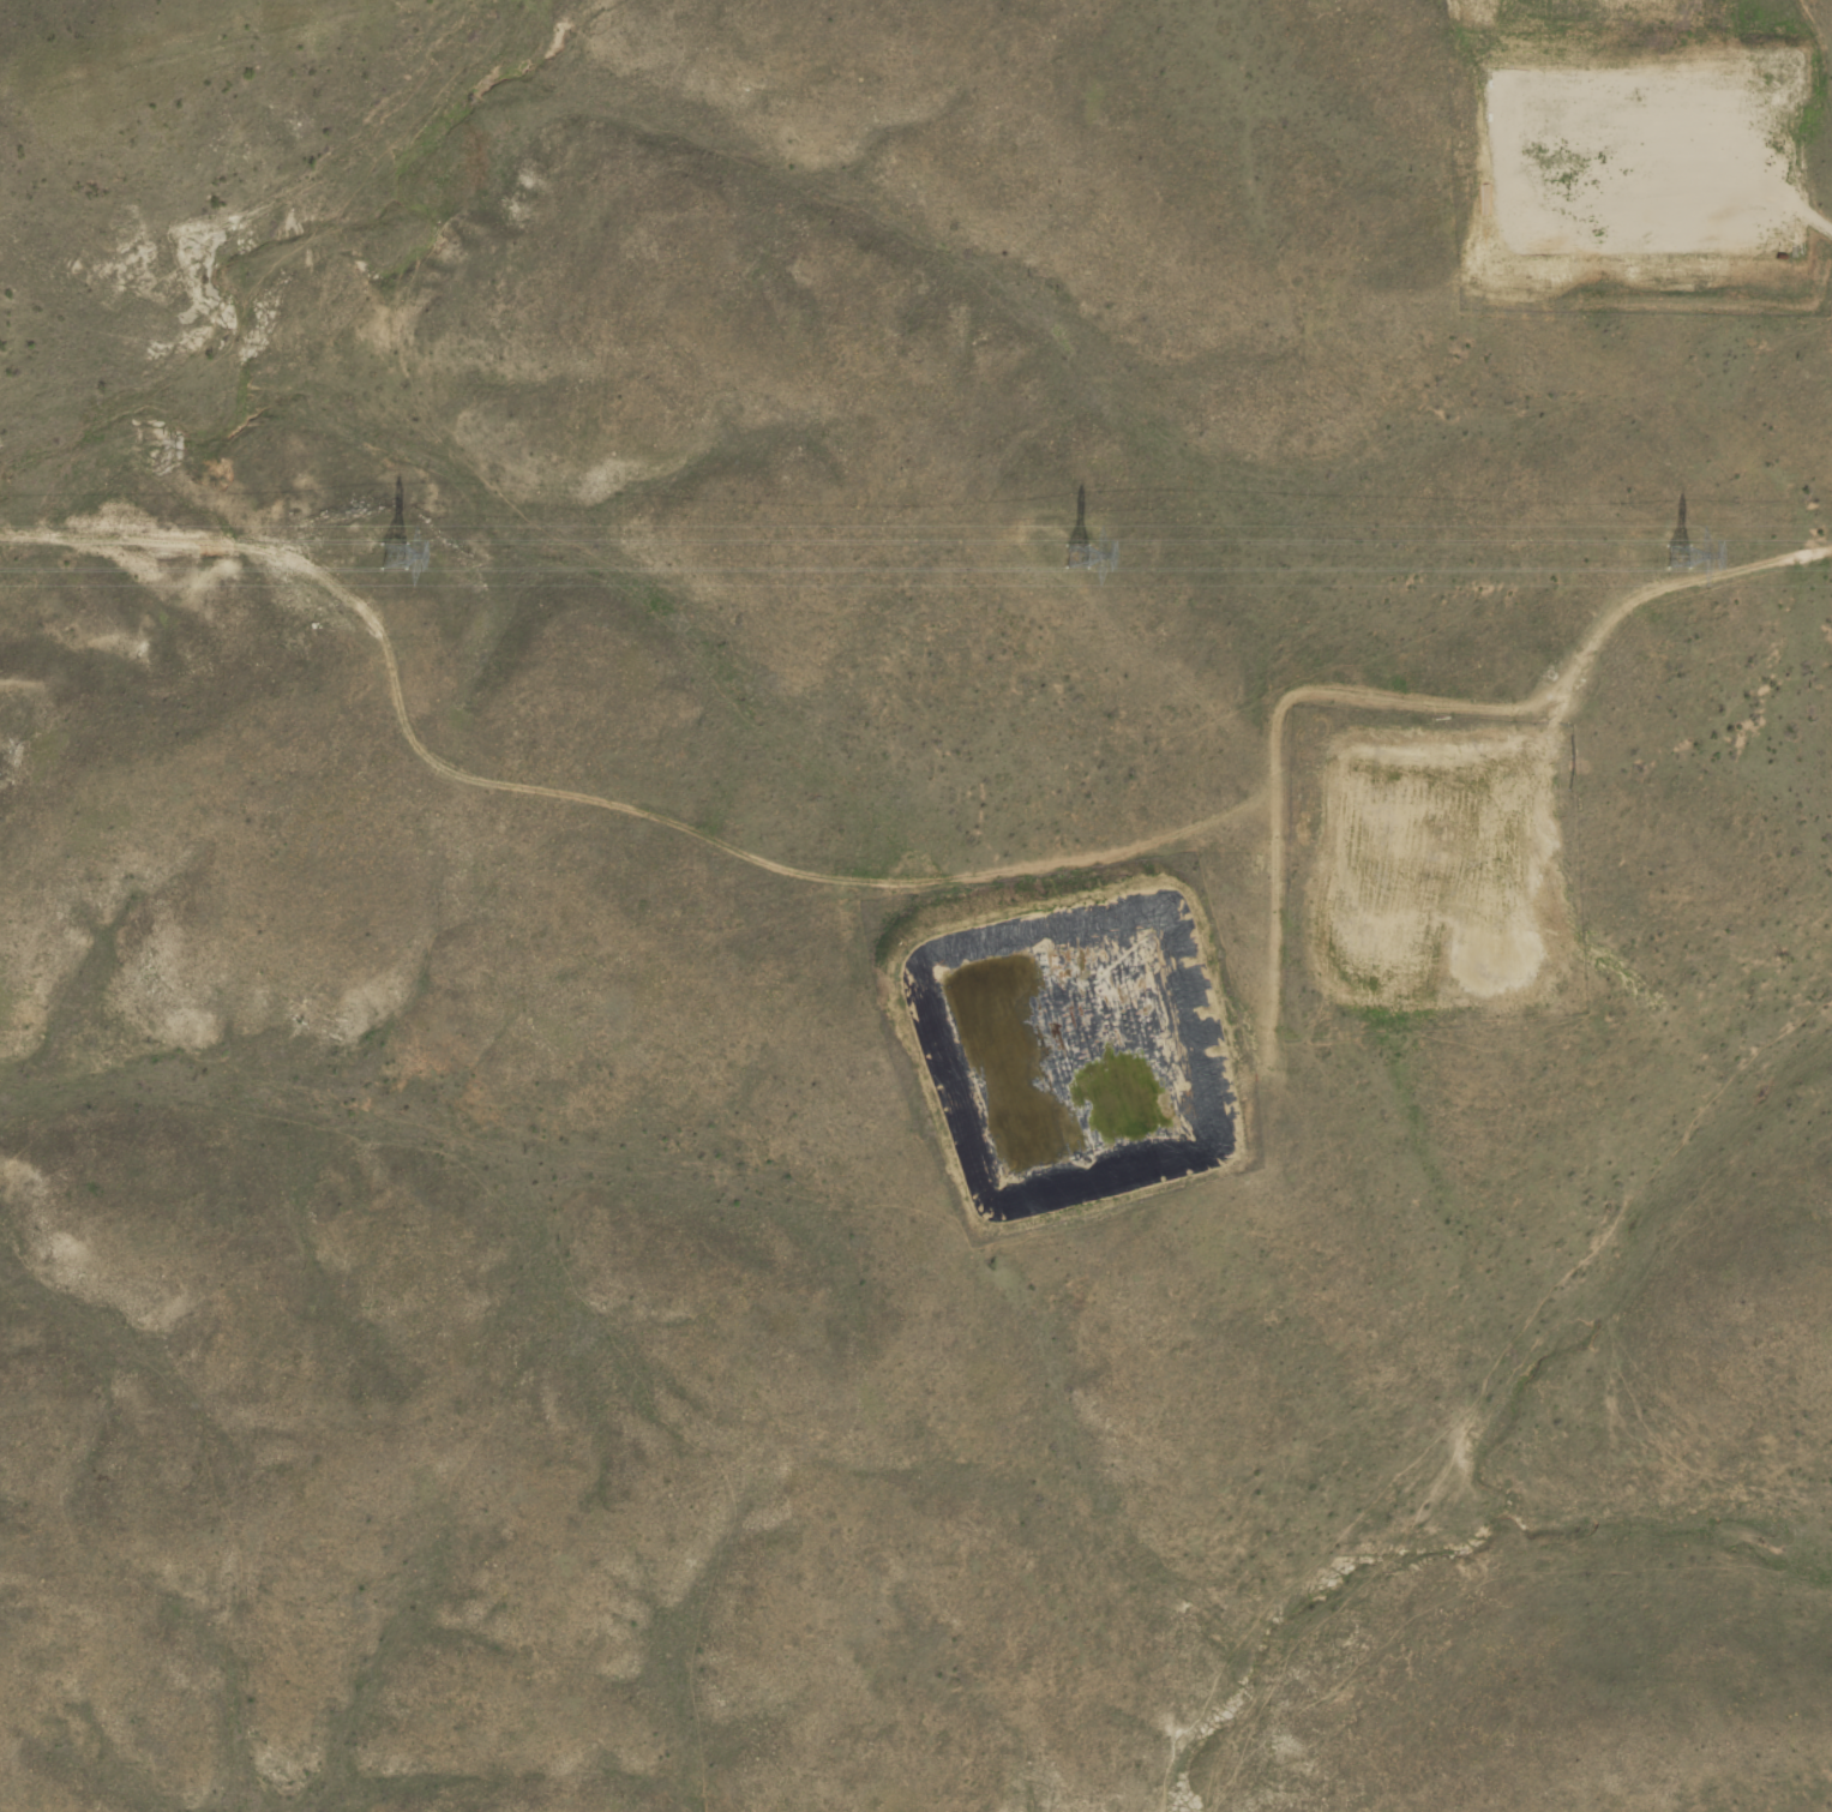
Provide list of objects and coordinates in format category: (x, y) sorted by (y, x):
power tower: (391, 556)
power tower: (1076, 557)
power tower: (1677, 558)
road: (1057, 1187)

